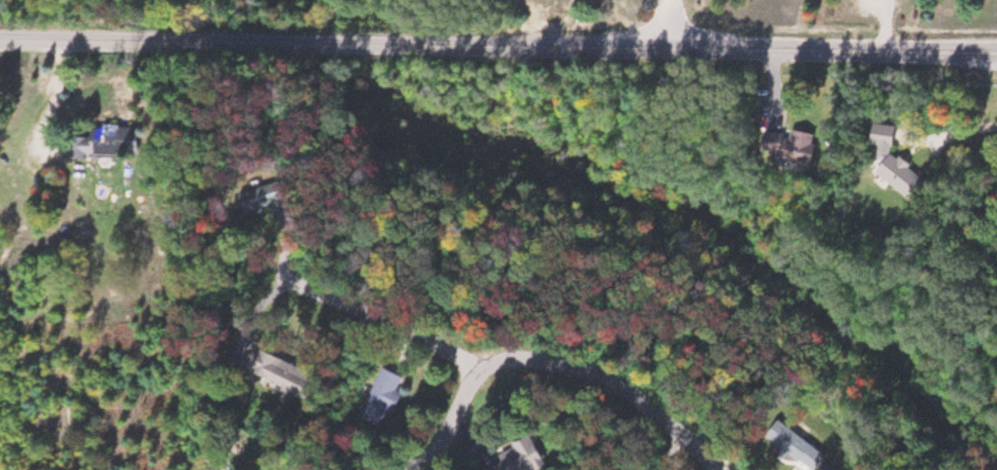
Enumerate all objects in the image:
road: (675, 23)
road: (156, 41)
road: (495, 44)
road: (837, 49)
building: (109, 141)
building: (803, 148)
building: (271, 200)
road: (385, 322)
road: (558, 364)
building: (284, 370)
building: (389, 396)
building: (525, 455)

